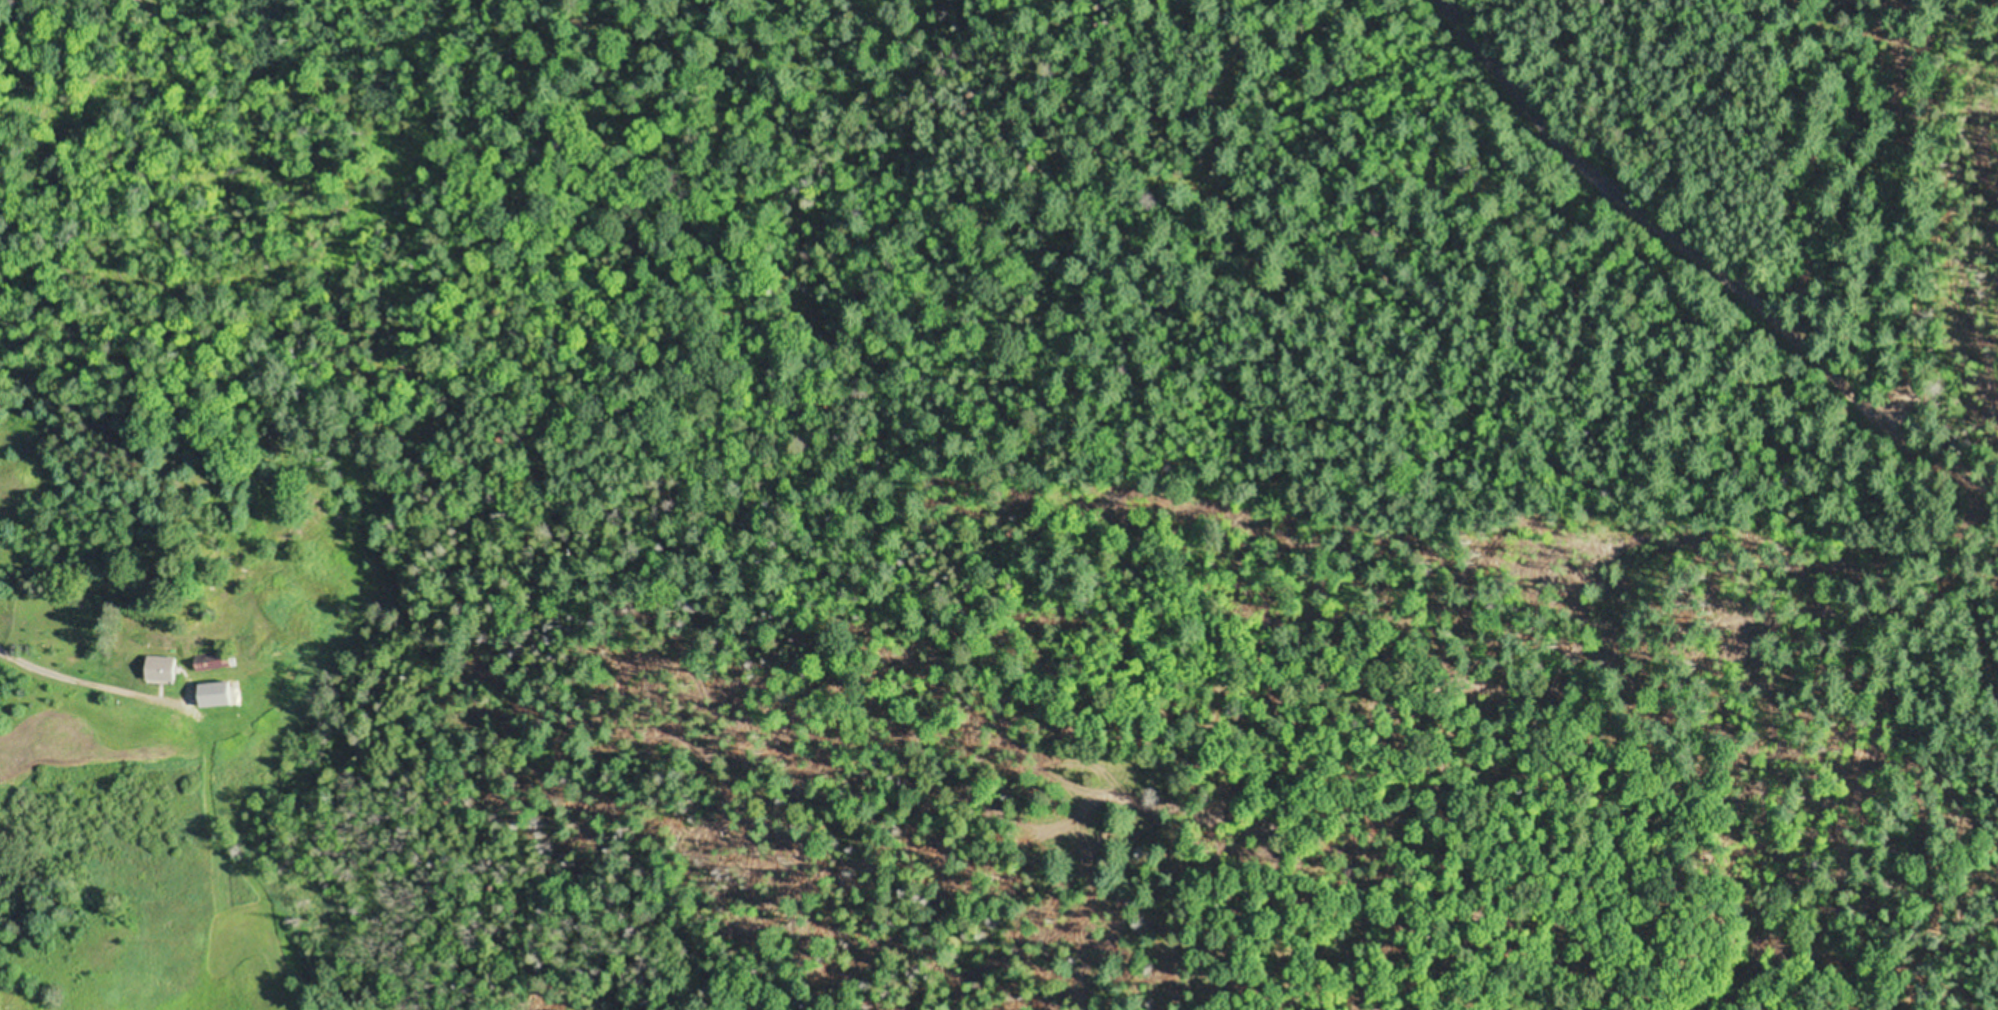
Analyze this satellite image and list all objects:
road: (1653, 230)
road: (73, 683)

